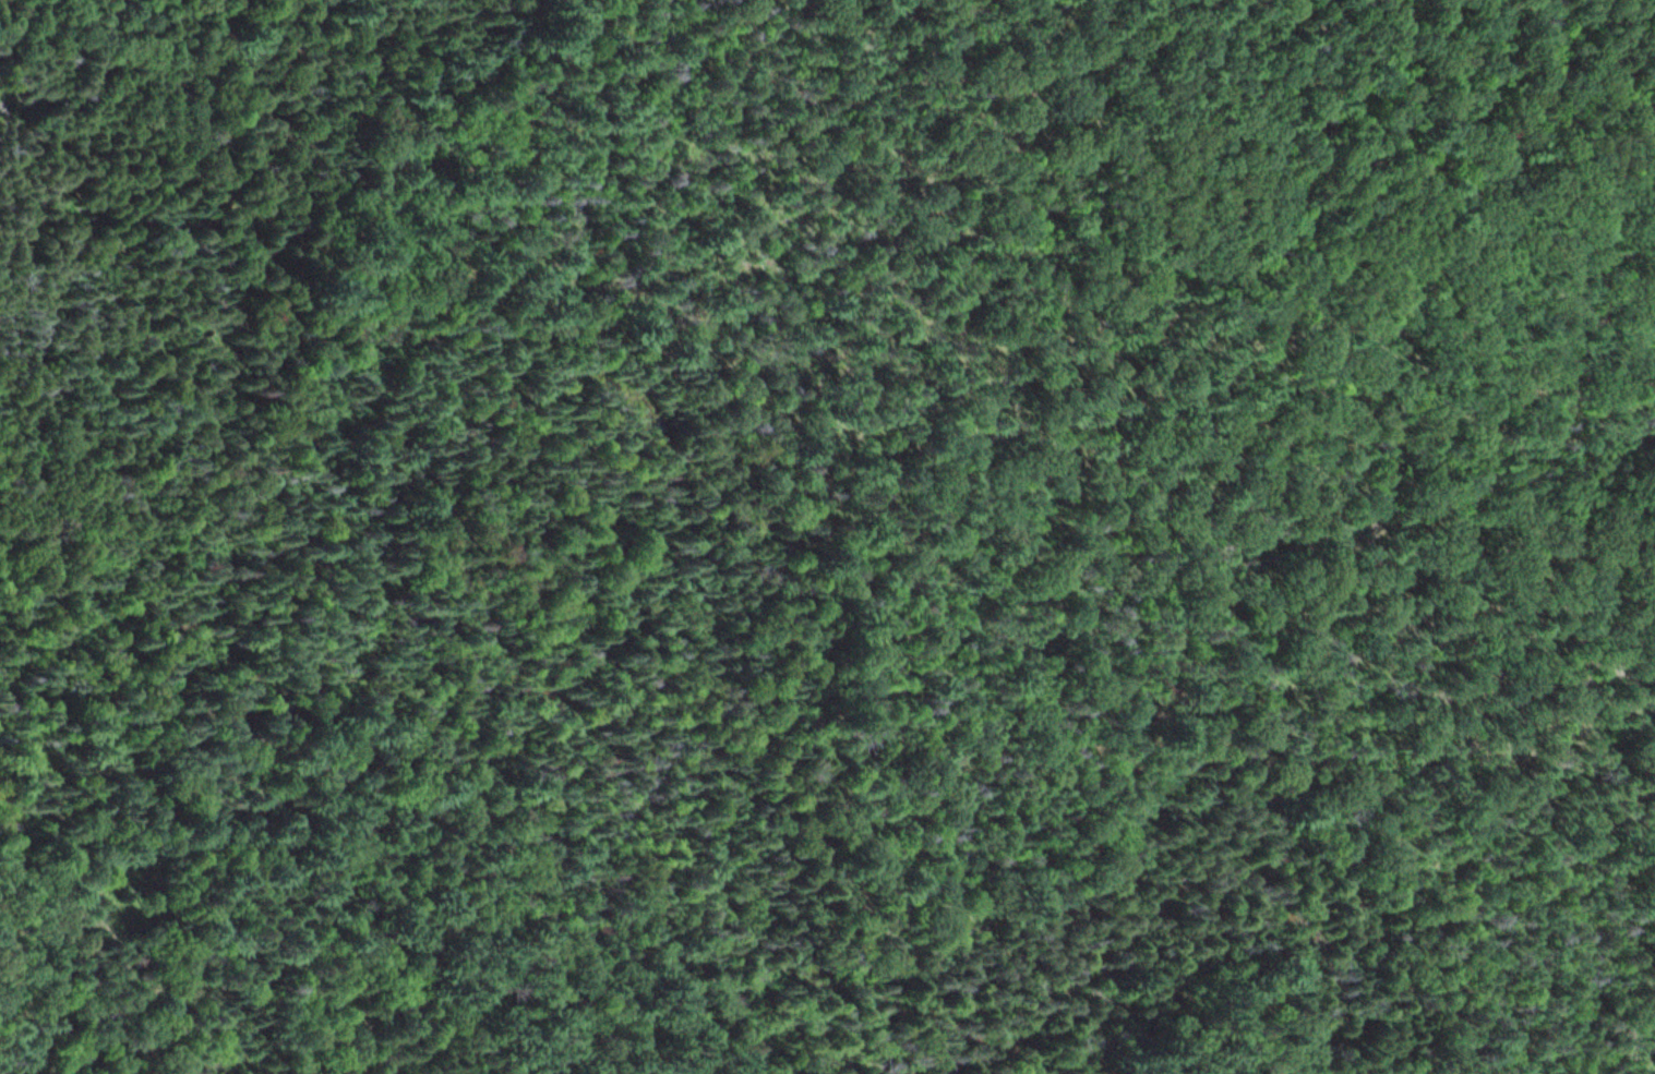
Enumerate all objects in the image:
road: (1506, 455)
road: (380, 836)
road: (1158, 1039)

